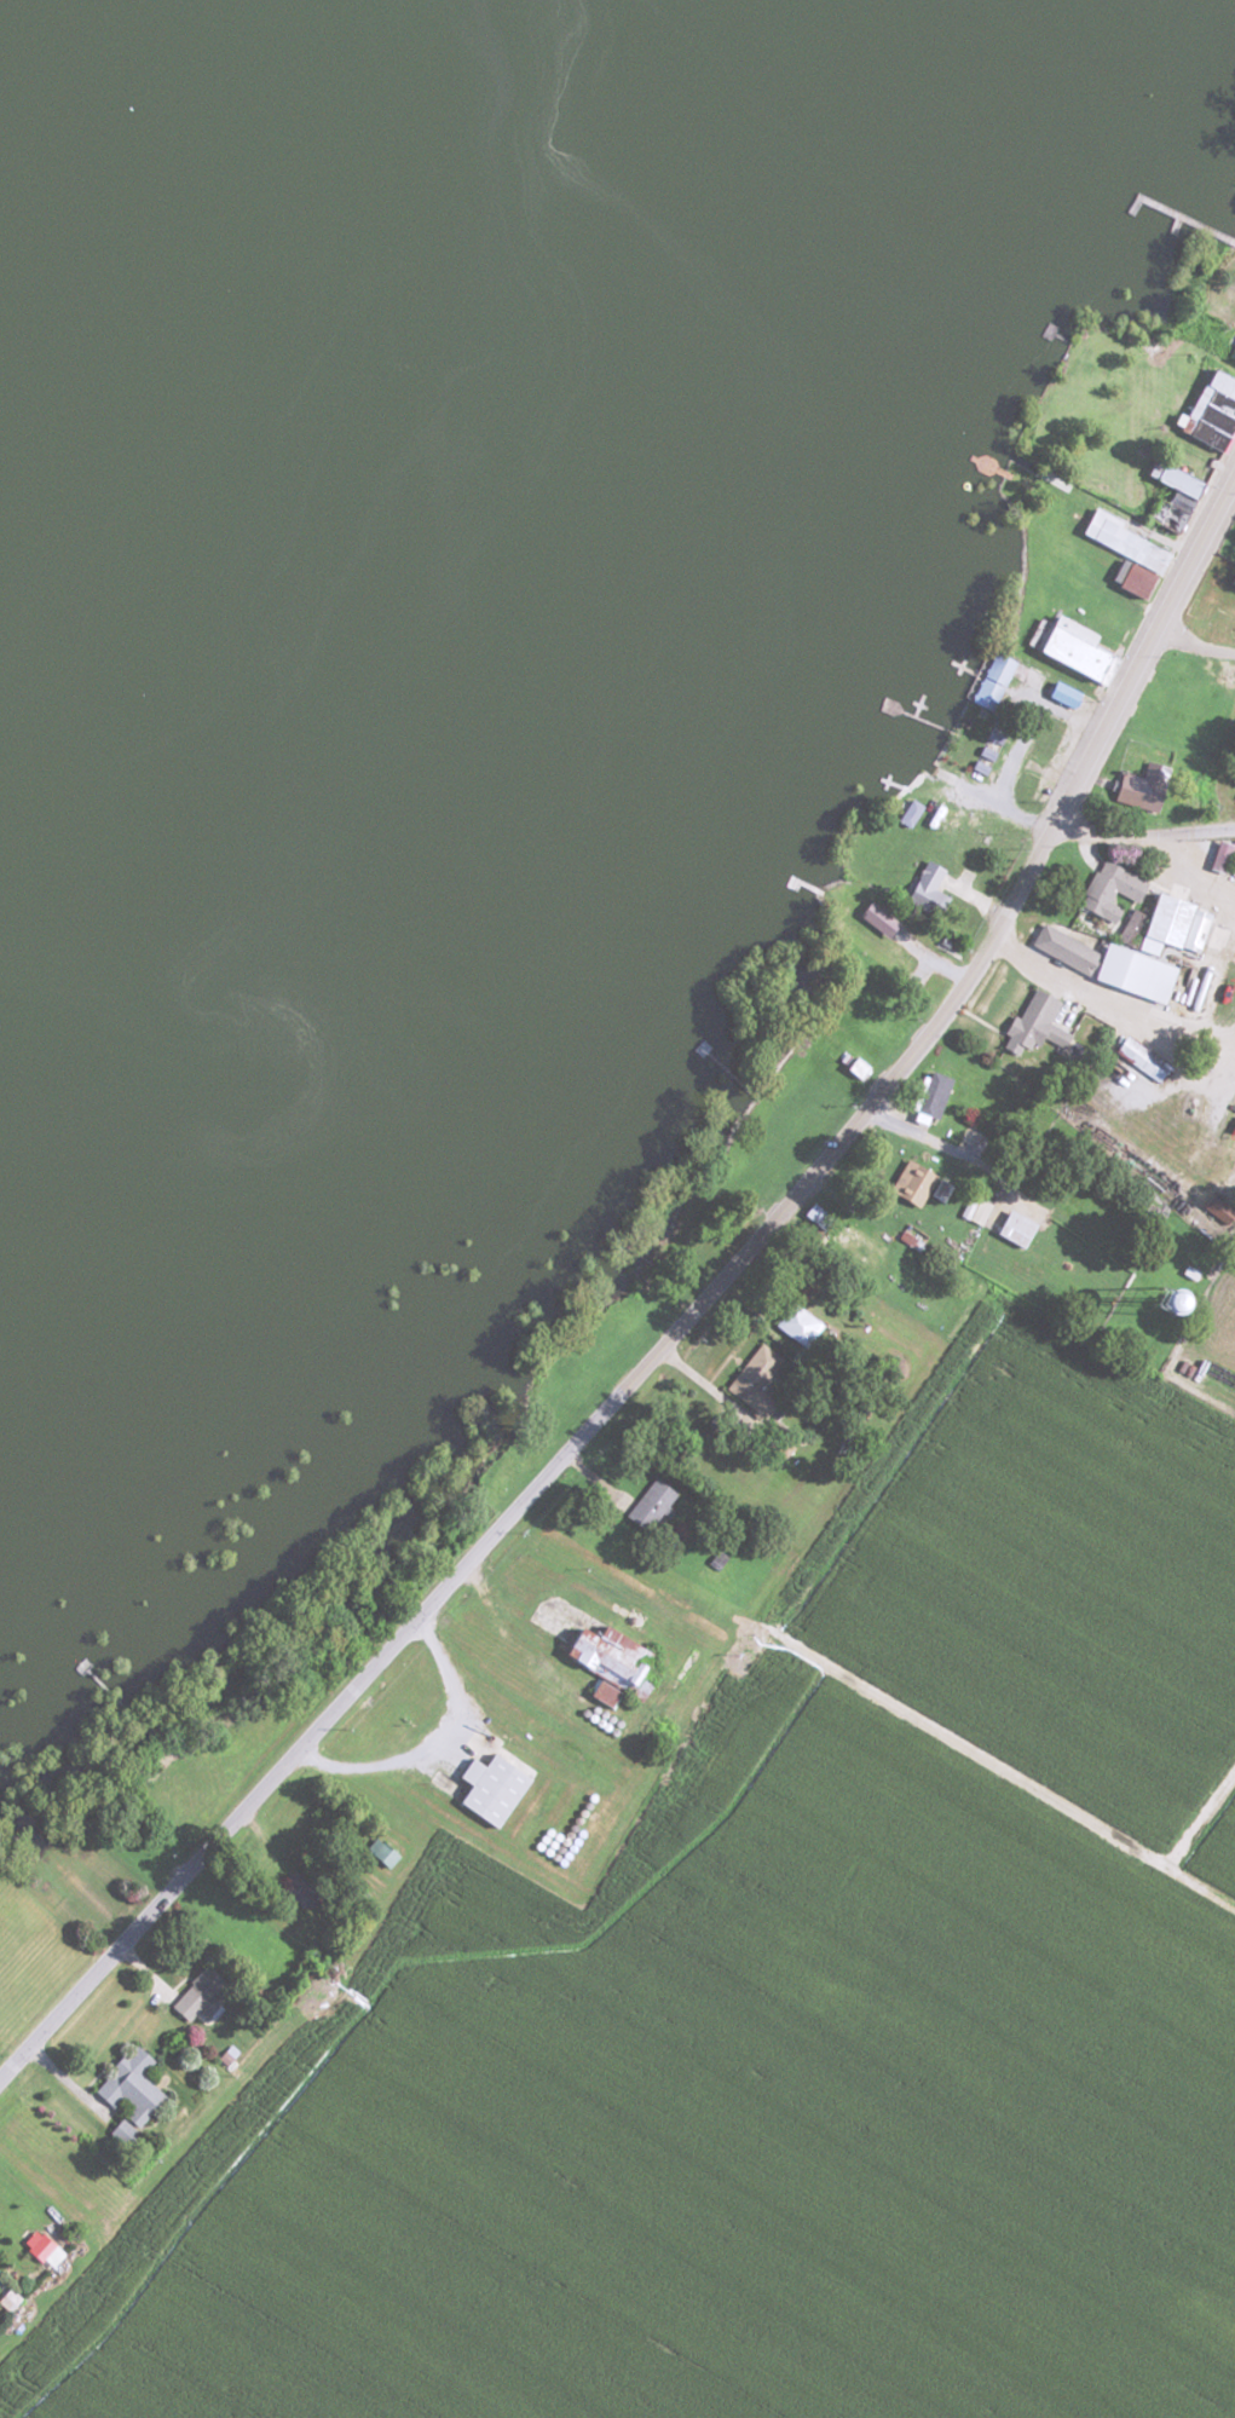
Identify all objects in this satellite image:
building: (1210, 409)
building: (1168, 478)
building: (1126, 558)
road: (1193, 645)
building: (1070, 651)
building: (987, 681)
building: (1202, 778)
building: (1138, 787)
building: (902, 814)
road: (1143, 830)
road: (1190, 864)
building: (921, 889)
building: (1106, 890)
building: (1168, 925)
building: (888, 954)
road: (1120, 998)
building: (1027, 1025)
building: (1136, 1058)
building: (852, 1067)
building: (928, 1095)
building: (907, 1185)
building: (974, 1212)
building: (1009, 1230)
building: (854, 1246)
building: (791, 1326)
road: (691, 1327)
building: (748, 1374)
building: (645, 1507)
building: (602, 1660)
building: (486, 1790)
building: (195, 1997)
building: (123, 2093)

